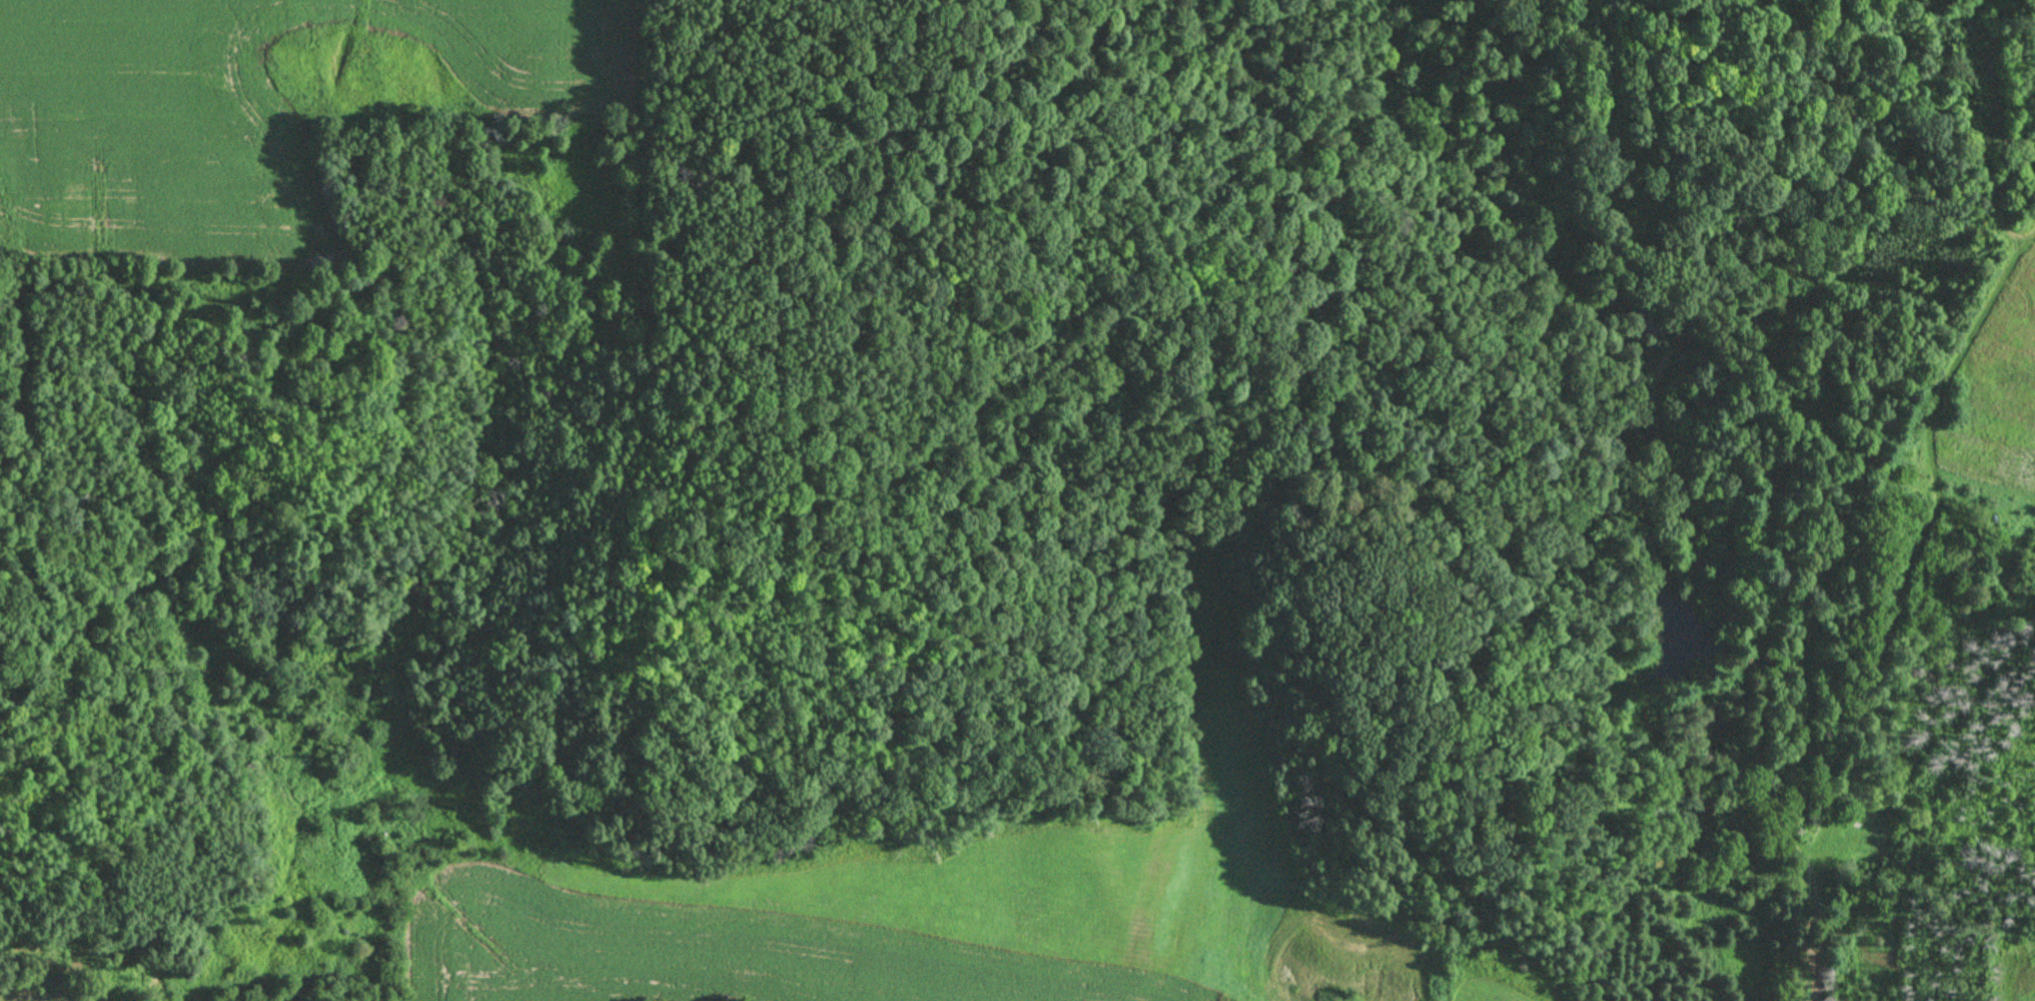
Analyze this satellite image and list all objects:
building: (1651, 327)

